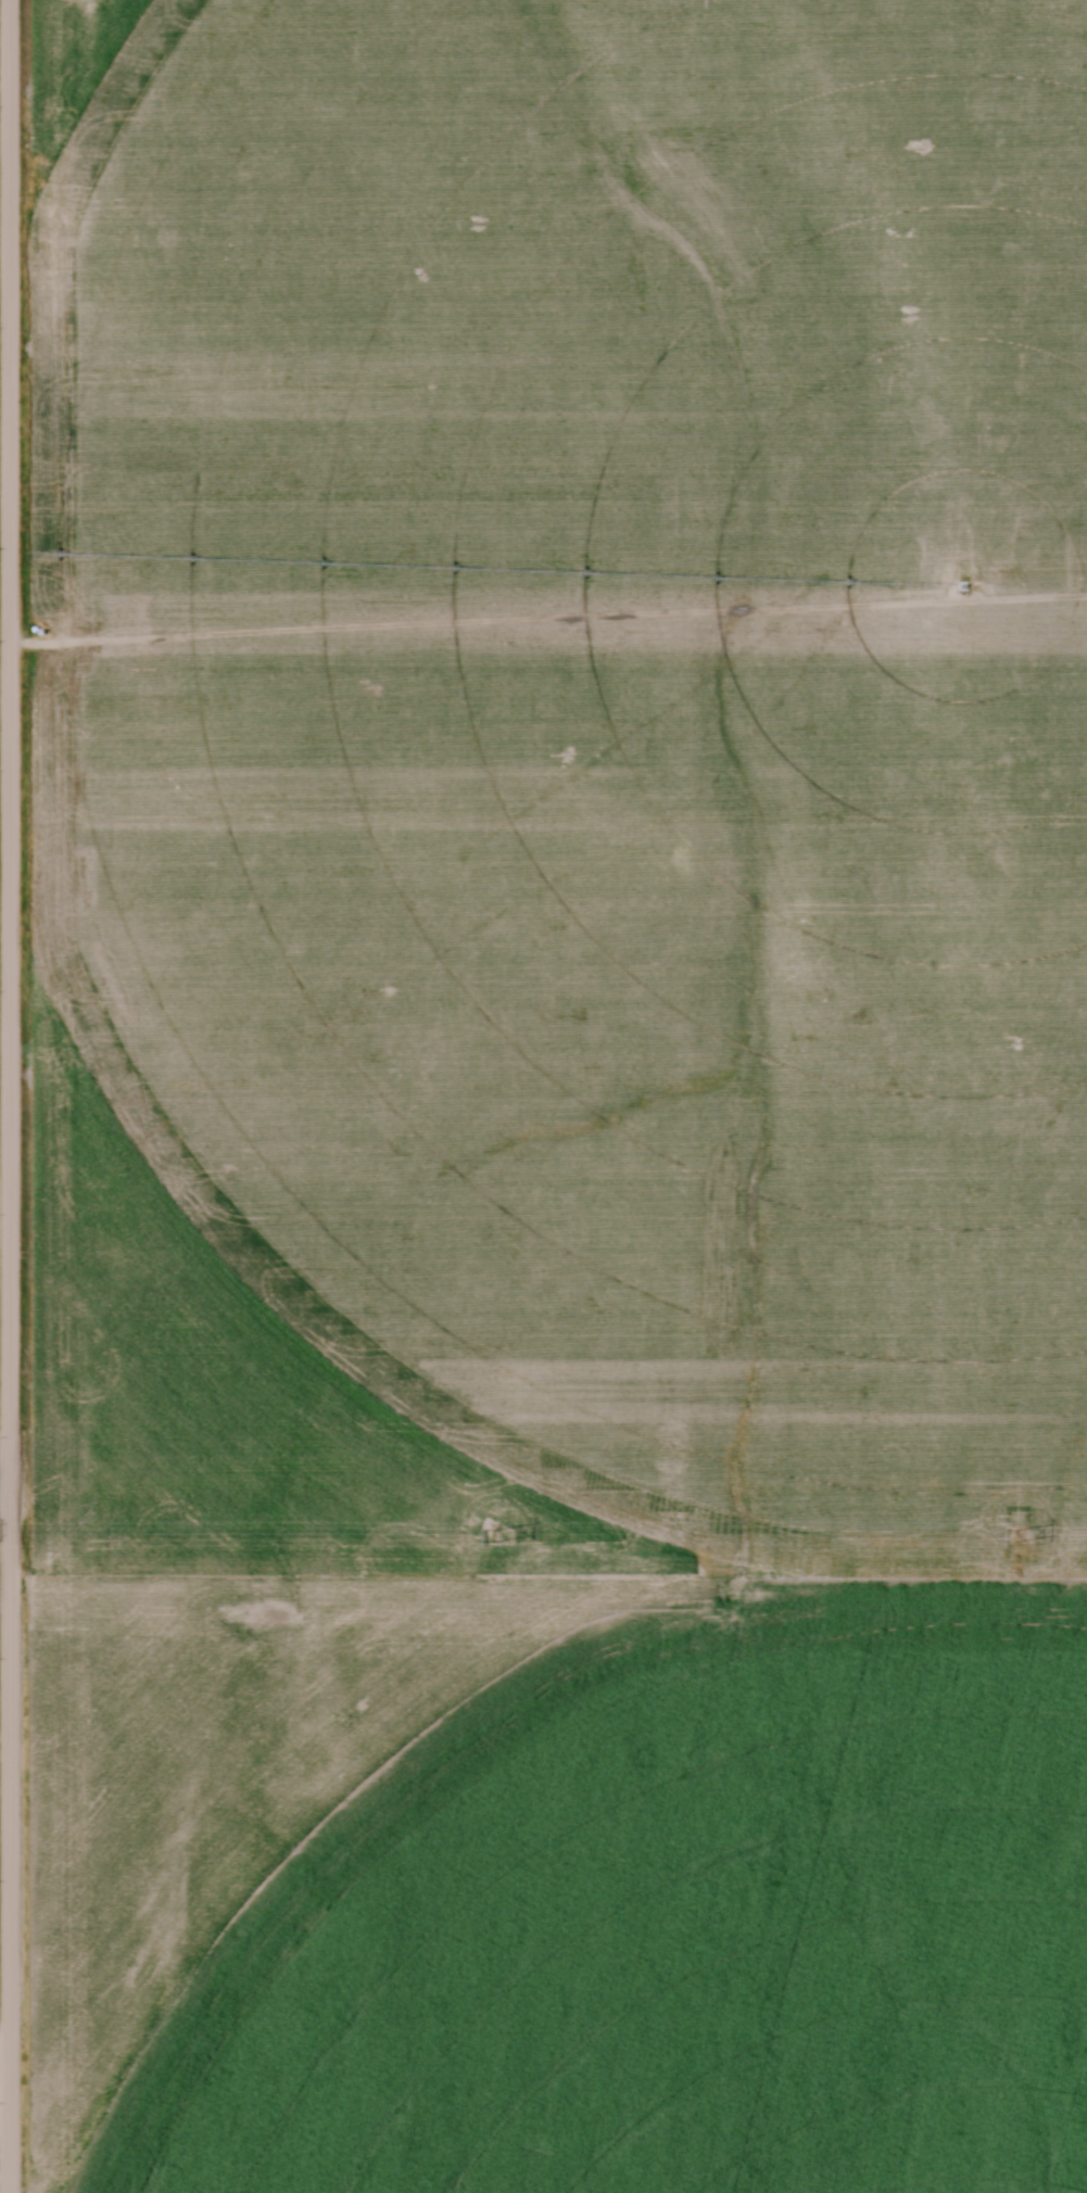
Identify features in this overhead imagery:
road: (10, 1096)
power tower: (1022, 1533)
power tower: (501, 1534)

